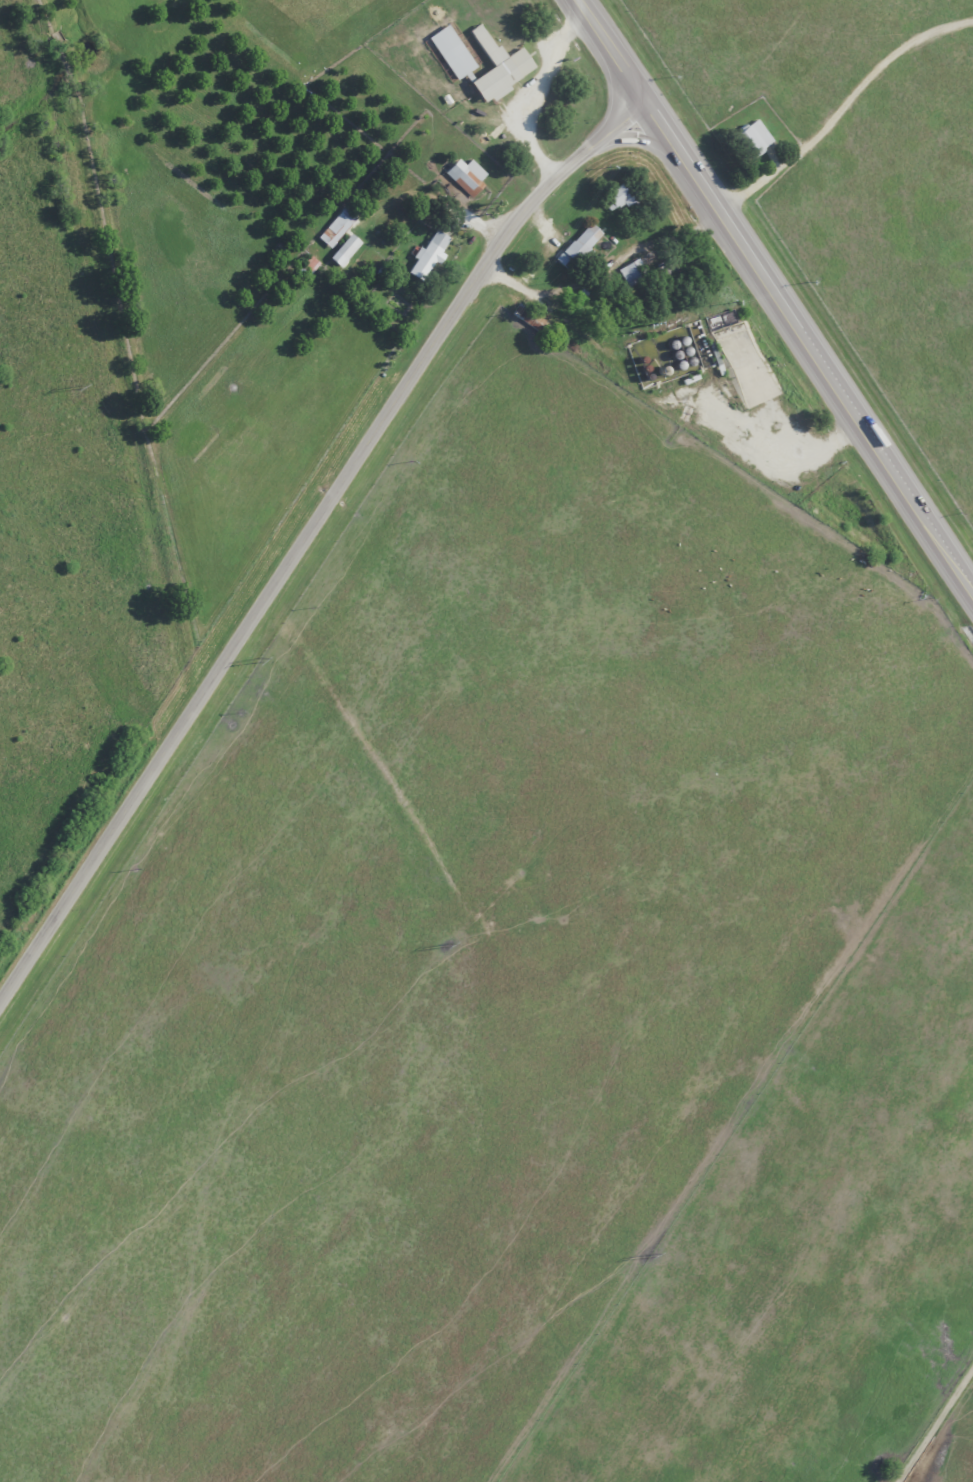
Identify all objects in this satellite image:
building: (508, 62)
road: (803, 93)
building: (754, 136)
building: (464, 176)
building: (335, 227)
building: (576, 246)
building: (343, 250)
building: (426, 255)
building: (631, 272)
road: (779, 293)
power tower: (83, 387)
road: (305, 535)
power tower: (263, 662)
power tower: (451, 948)
power tower: (655, 1259)

